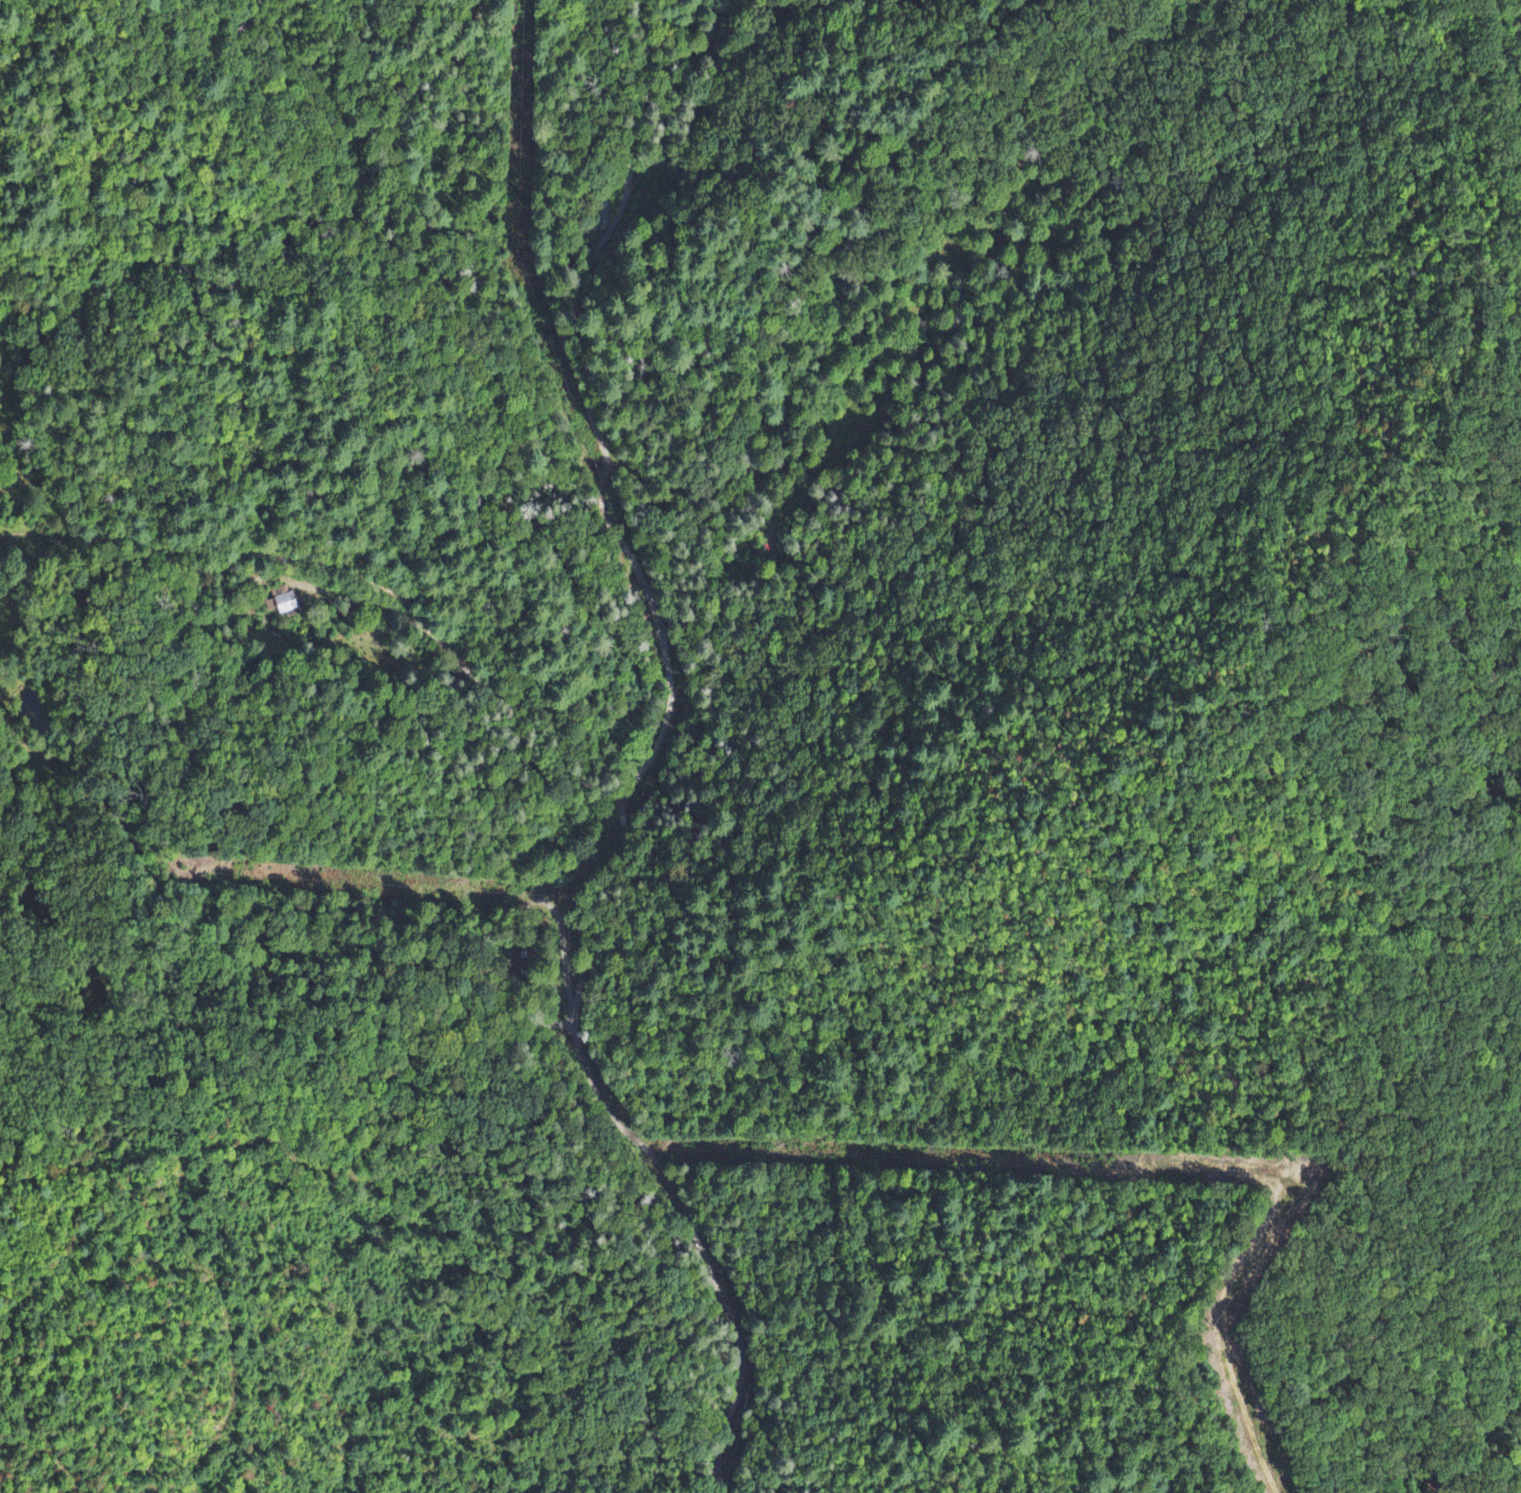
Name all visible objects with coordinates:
road: (264, 587)
road: (651, 768)

